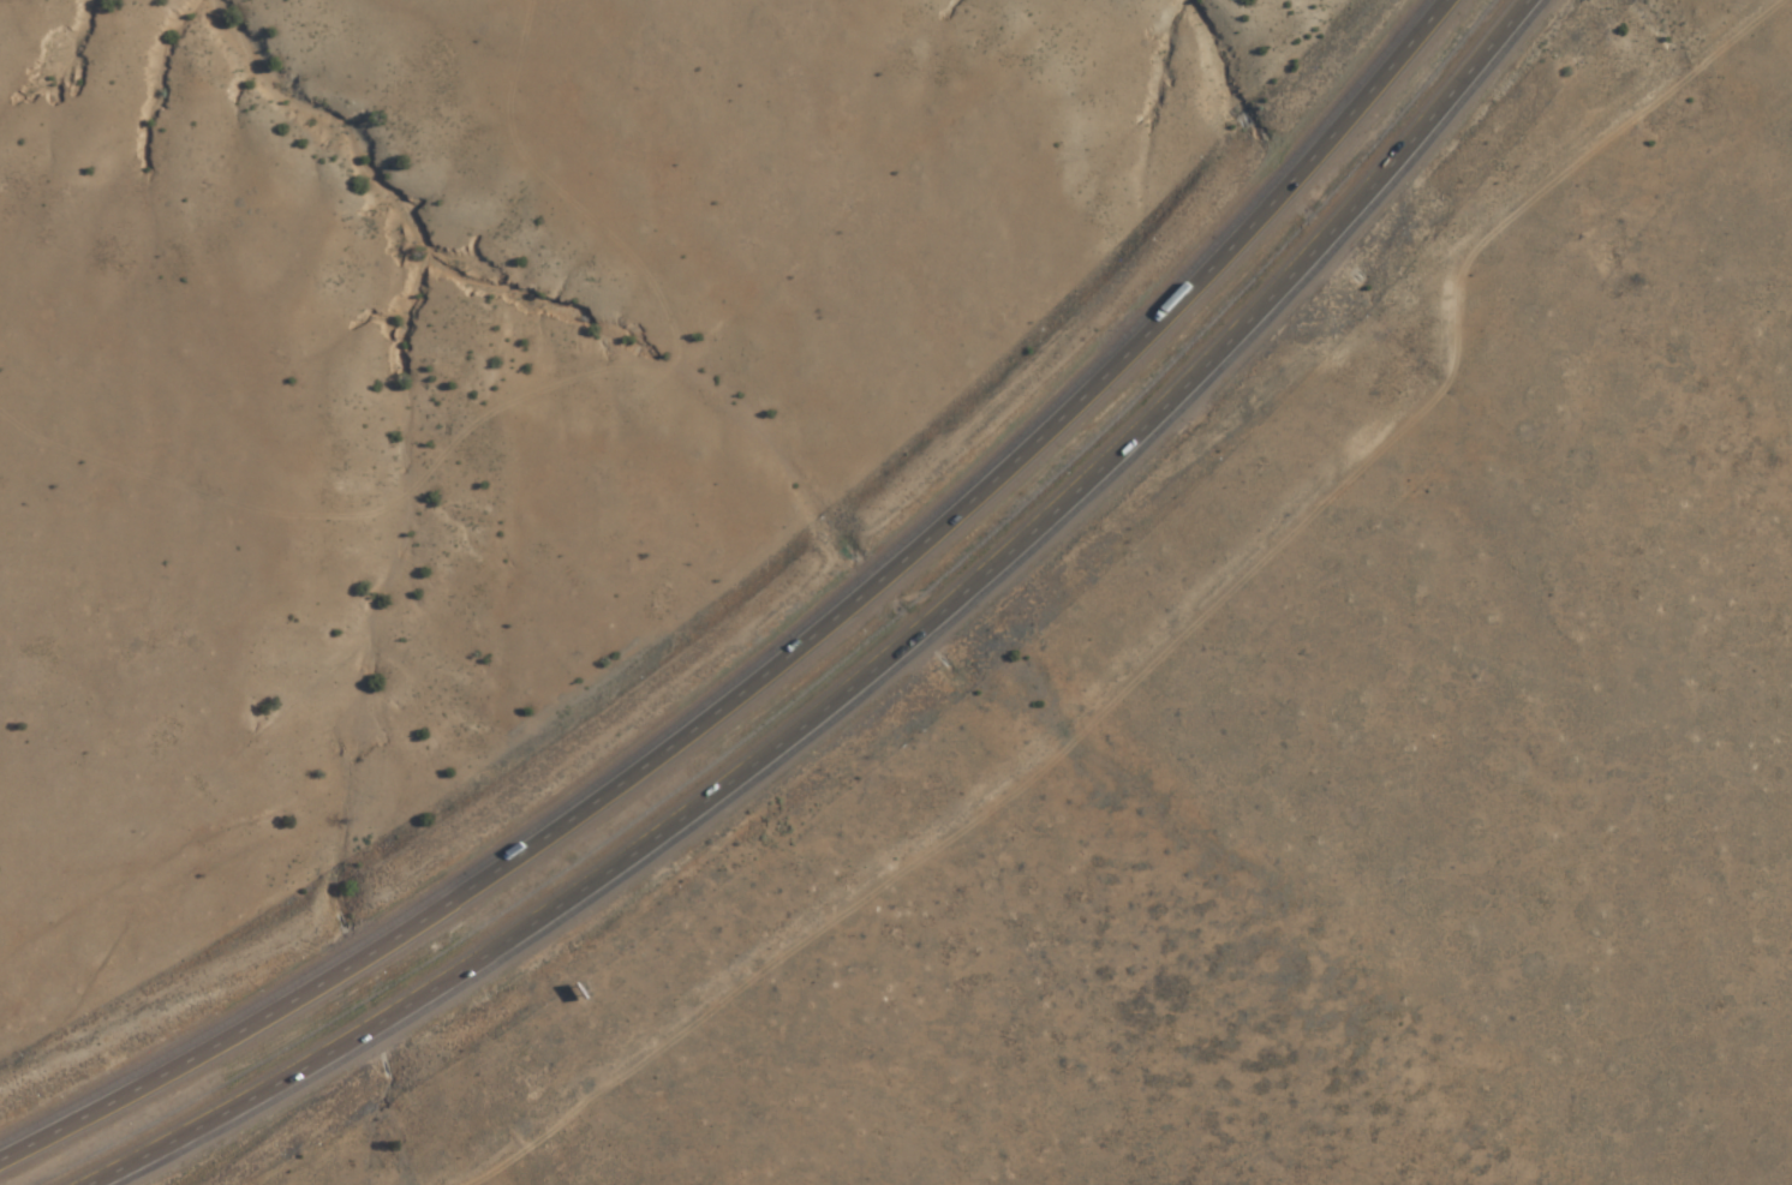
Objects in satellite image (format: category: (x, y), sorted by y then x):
road: (783, 662)
road: (871, 668)

